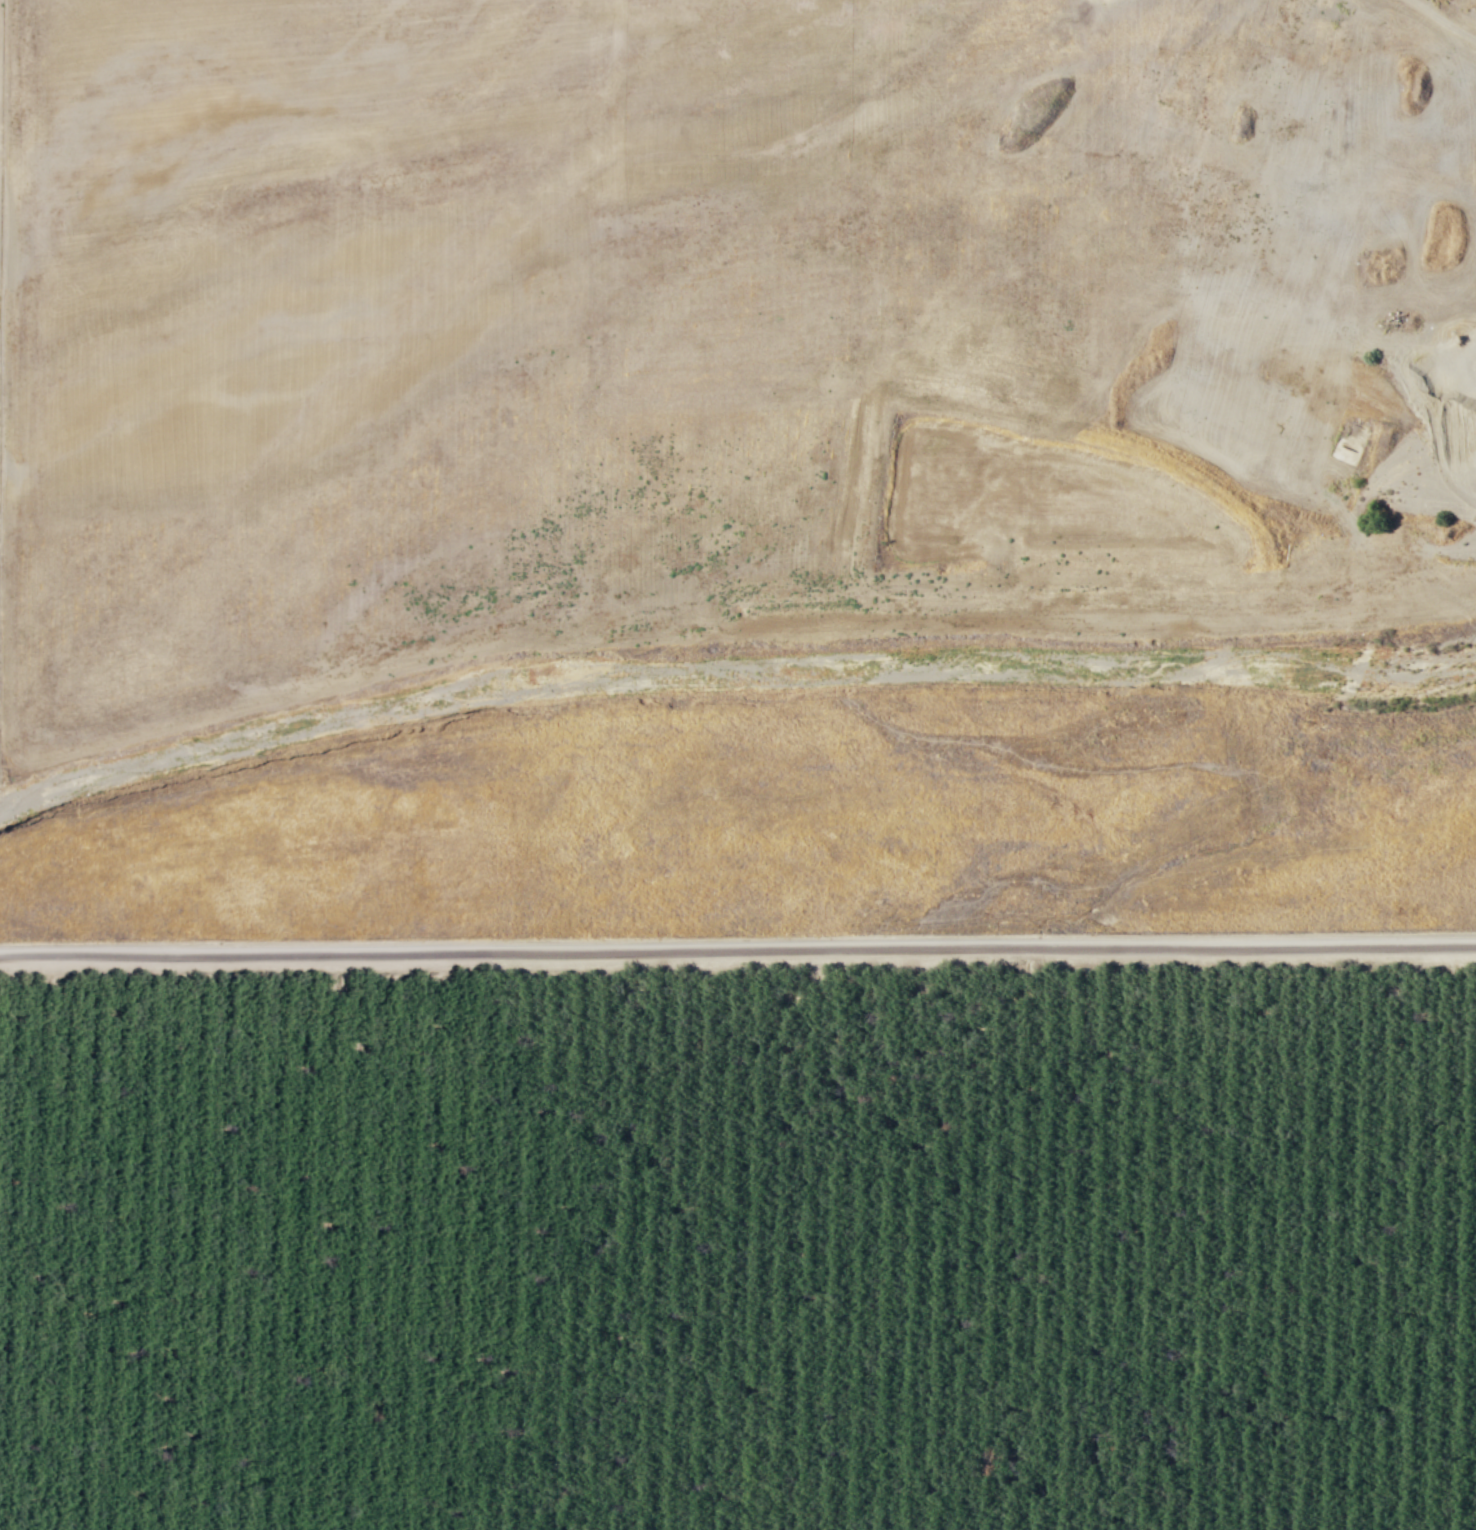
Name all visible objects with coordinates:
road: (1442, 20)
road: (761, 89)
road: (737, 947)

